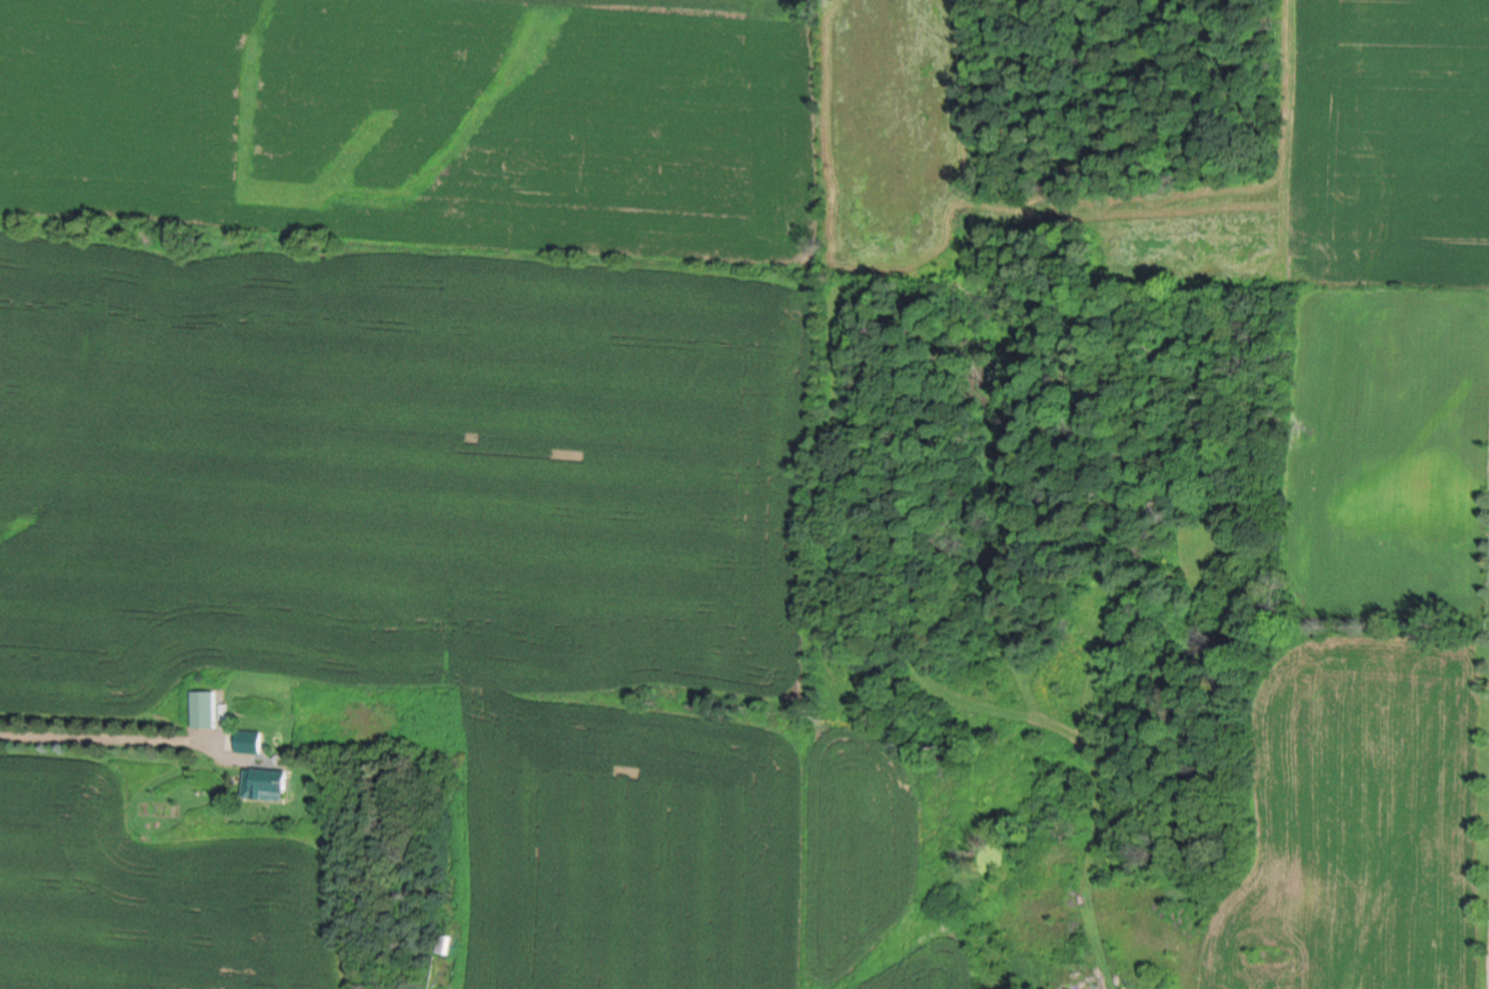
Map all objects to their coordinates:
building: (202, 708)
building: (247, 741)
building: (263, 783)
building: (443, 944)

